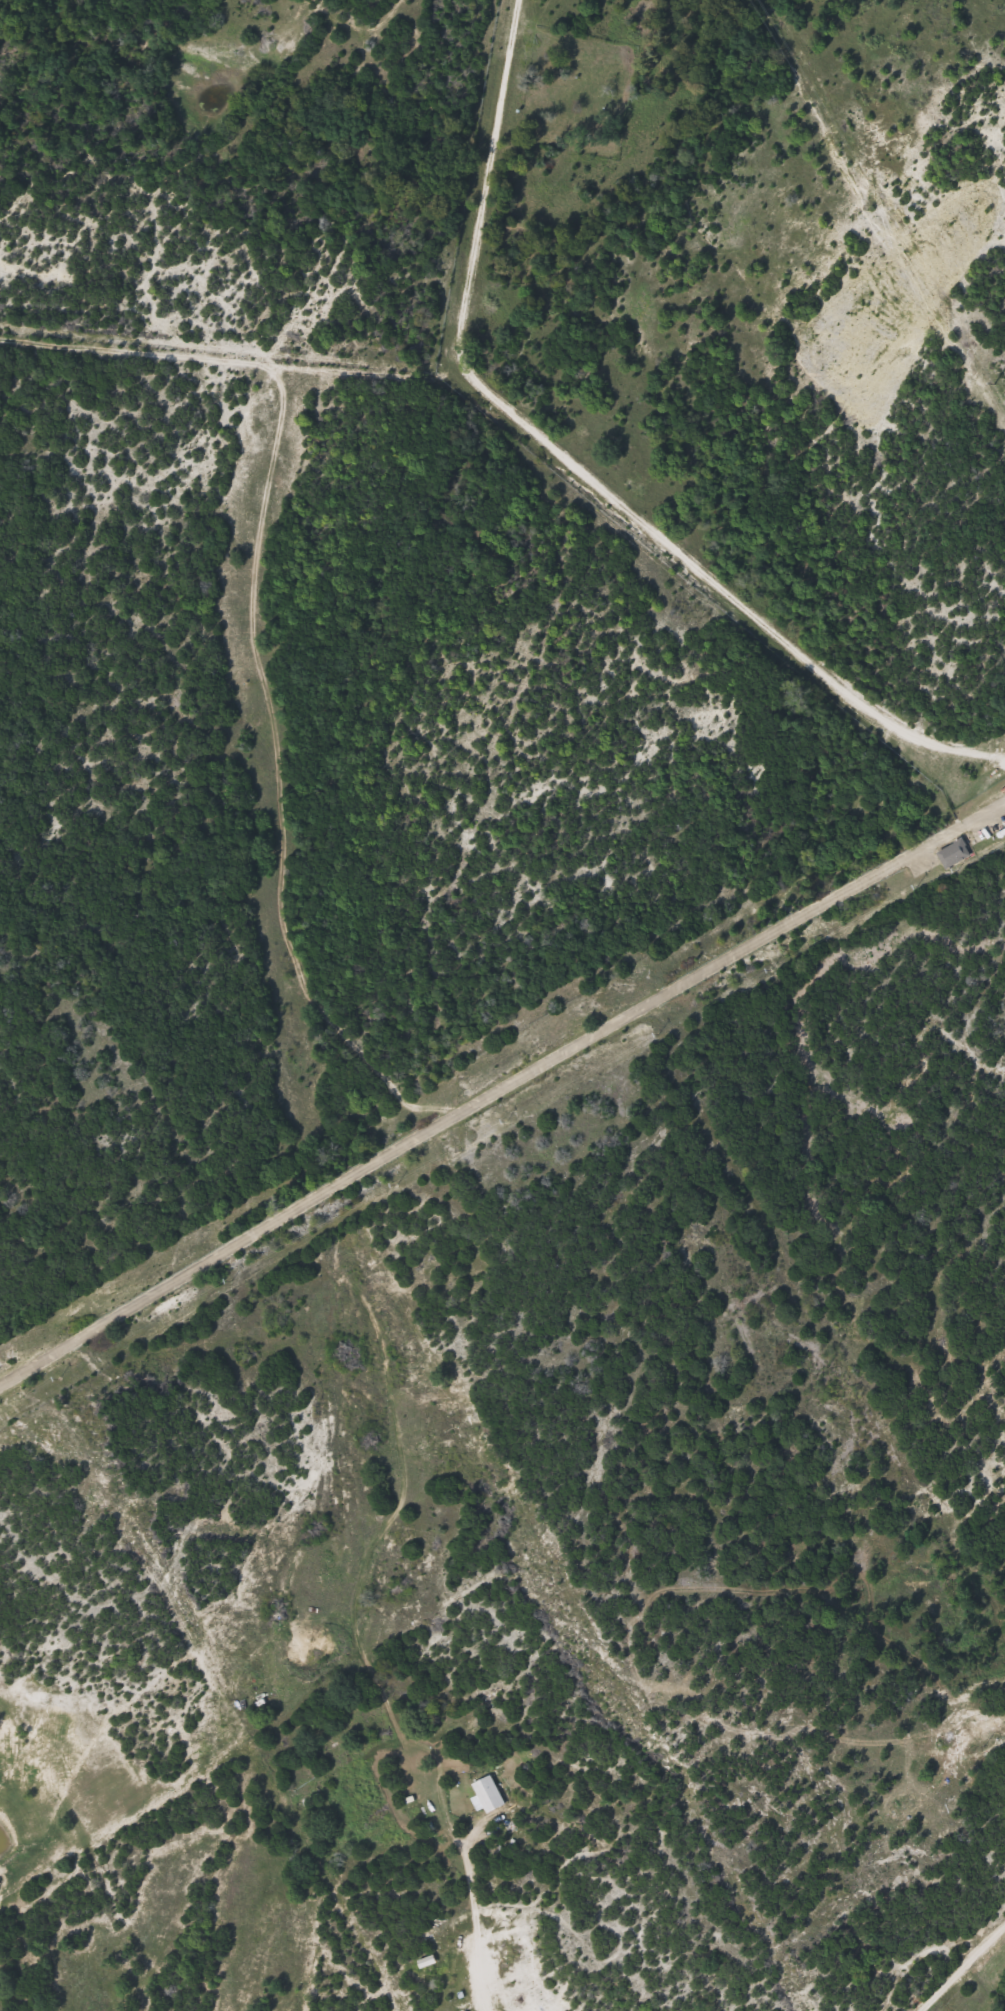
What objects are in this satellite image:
power tower: (994, 383)
building: (955, 850)
road: (502, 1086)
building: (962, 1738)
building: (489, 1792)
building: (452, 1958)

